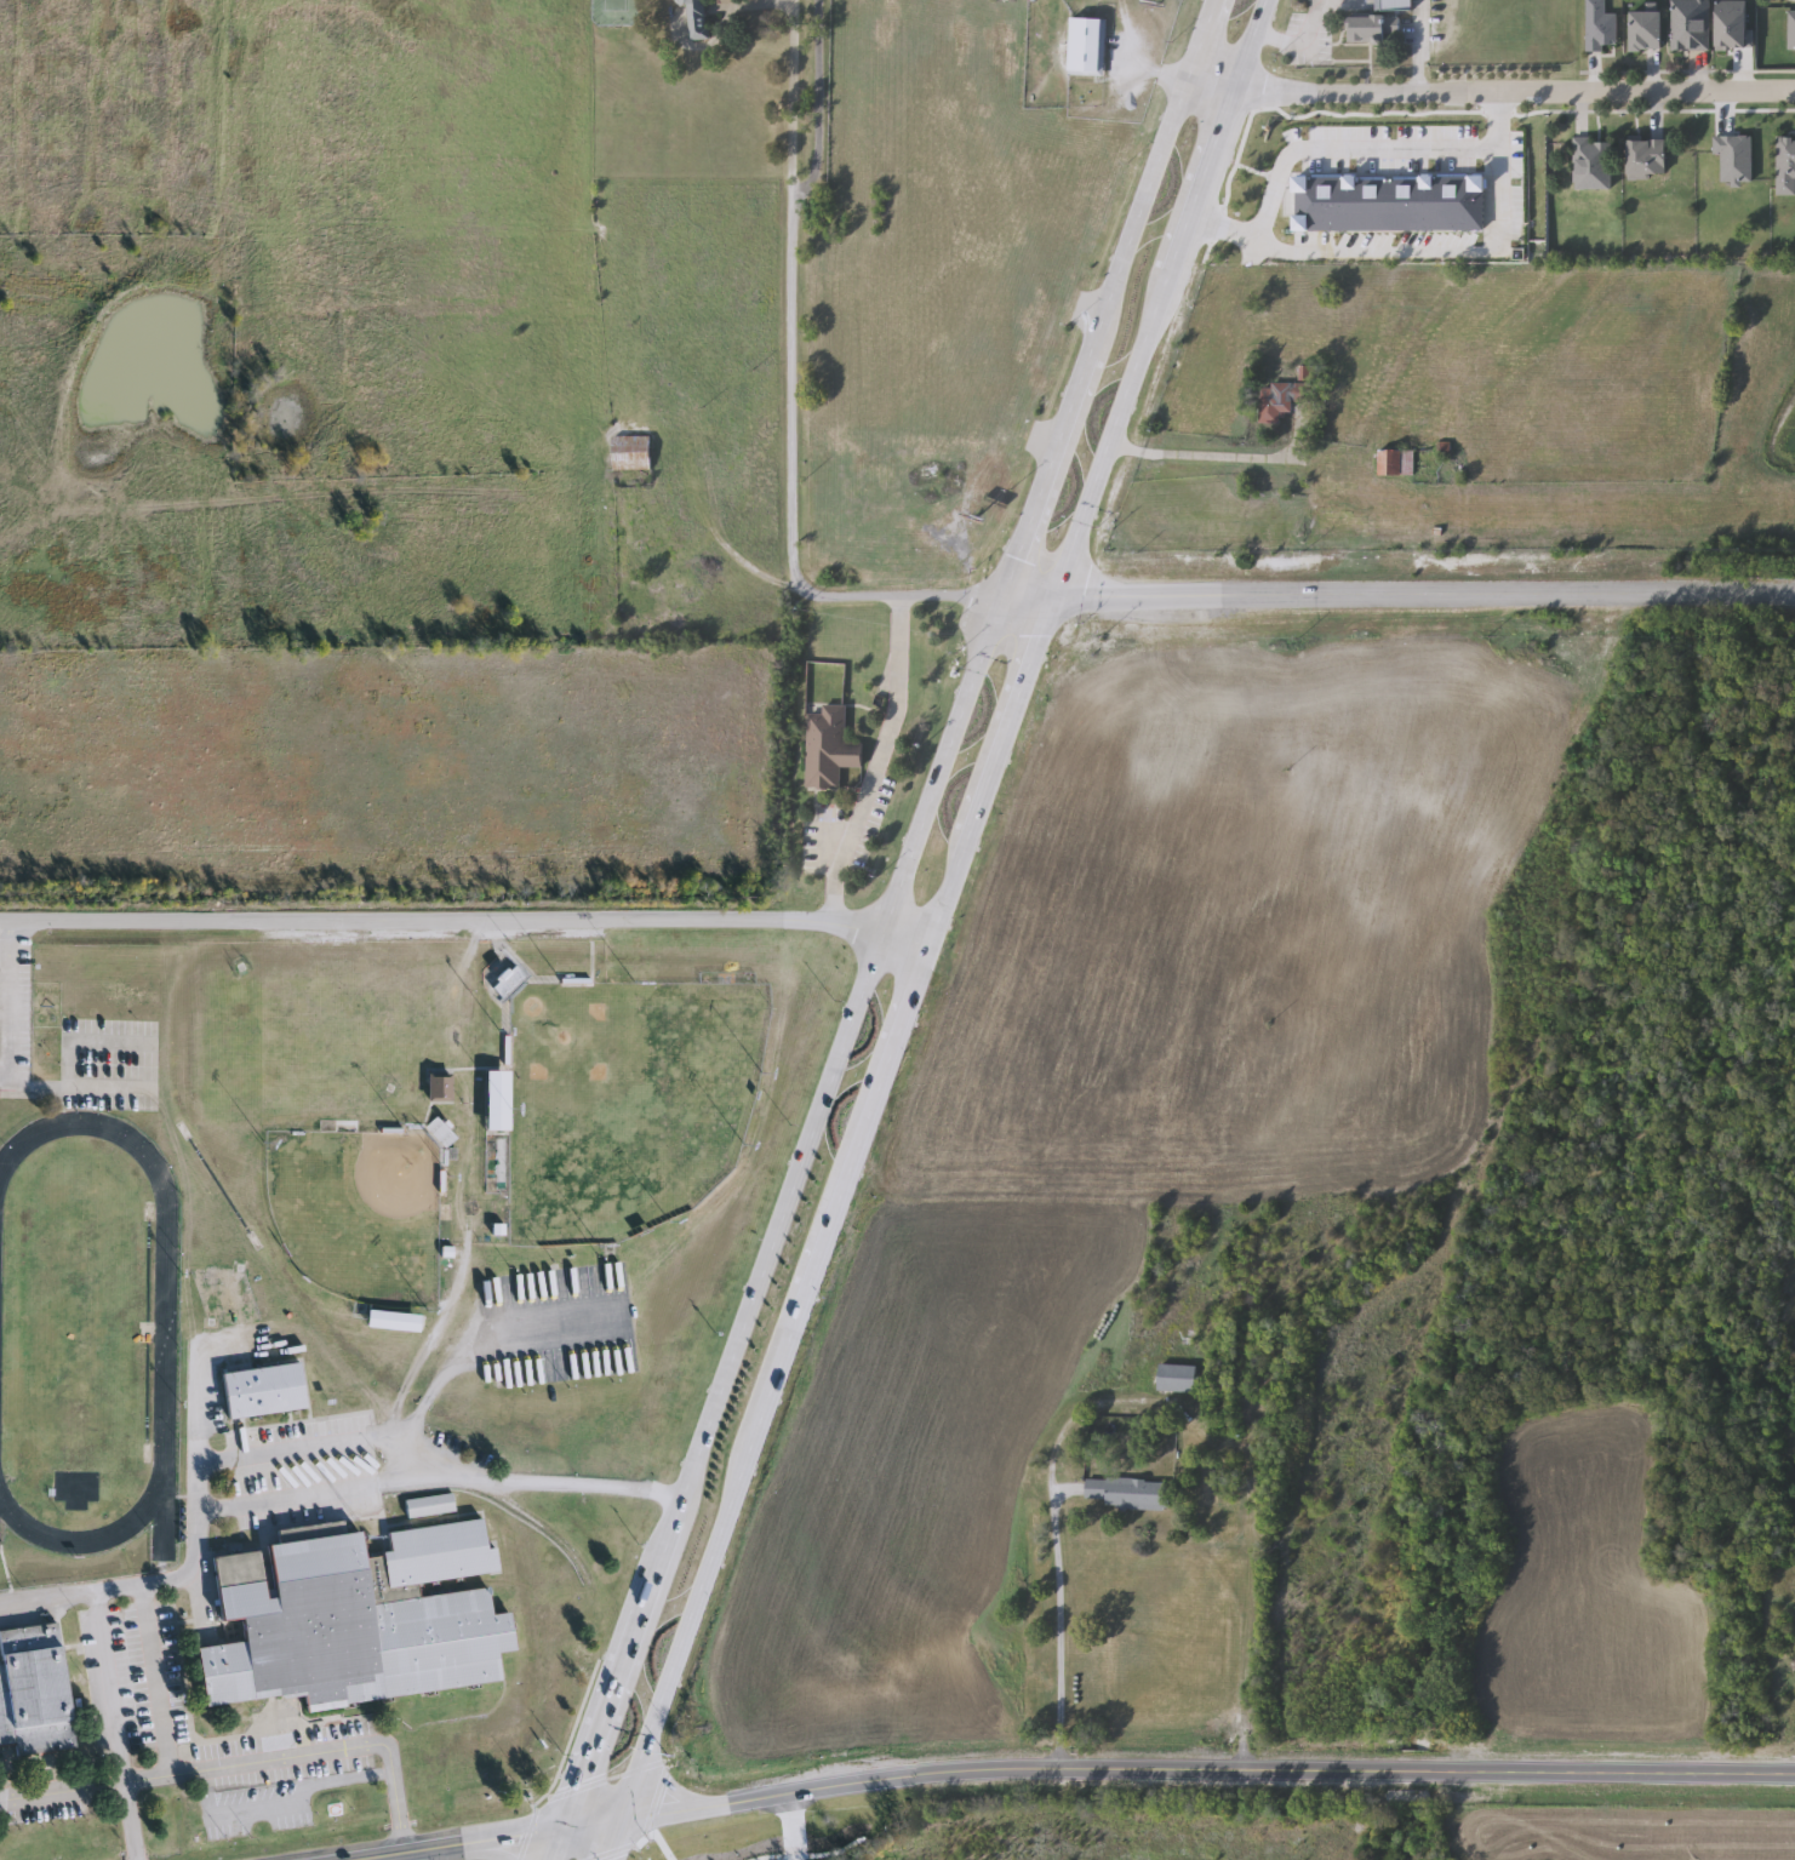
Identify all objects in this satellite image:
building: (1395, 5)
building: (692, 18)
building: (1688, 25)
building: (1599, 27)
building: (1366, 32)
building: (1646, 32)
building: (1790, 32)
road: (1296, 41)
building: (1085, 47)
road: (1417, 51)
road: (1153, 75)
road: (812, 97)
road: (1486, 102)
building: (1647, 159)
building: (1591, 166)
building: (1784, 167)
road: (1408, 251)
road: (798, 298)
building: (1280, 400)
building: (629, 454)
road: (1188, 454)
building: (1394, 464)
road: (1419, 597)
traffic signals: (997, 601)
road: (1021, 601)
road: (901, 602)
traffic signals: (1045, 602)
road: (886, 717)
building: (828, 749)
road: (831, 872)
road: (936, 909)
road: (885, 912)
road: (463, 921)
building: (508, 983)
road: (5, 1005)
building: (438, 1086)
park: (623, 1103)
building: (438, 1133)
park: (356, 1212)
building: (390, 1320)
track: (165, 1323)
road: (475, 1338)
road: (415, 1350)
building: (1176, 1379)
building: (259, 1391)
road: (324, 1436)
road: (431, 1473)
building: (1128, 1494)
building: (427, 1505)
road: (195, 1511)
building: (351, 1619)
road: (1051, 1629)
road: (103, 1637)
building: (33, 1692)
road: (305, 1755)
road: (1201, 1770)
road: (101, 1784)
road: (659, 1789)
traffic signals: (612, 1819)
traffic signals: (553, 1824)
road: (800, 1826)
road: (470, 1836)
road: (604, 1839)
road: (545, 1842)
road: (478, 1849)

